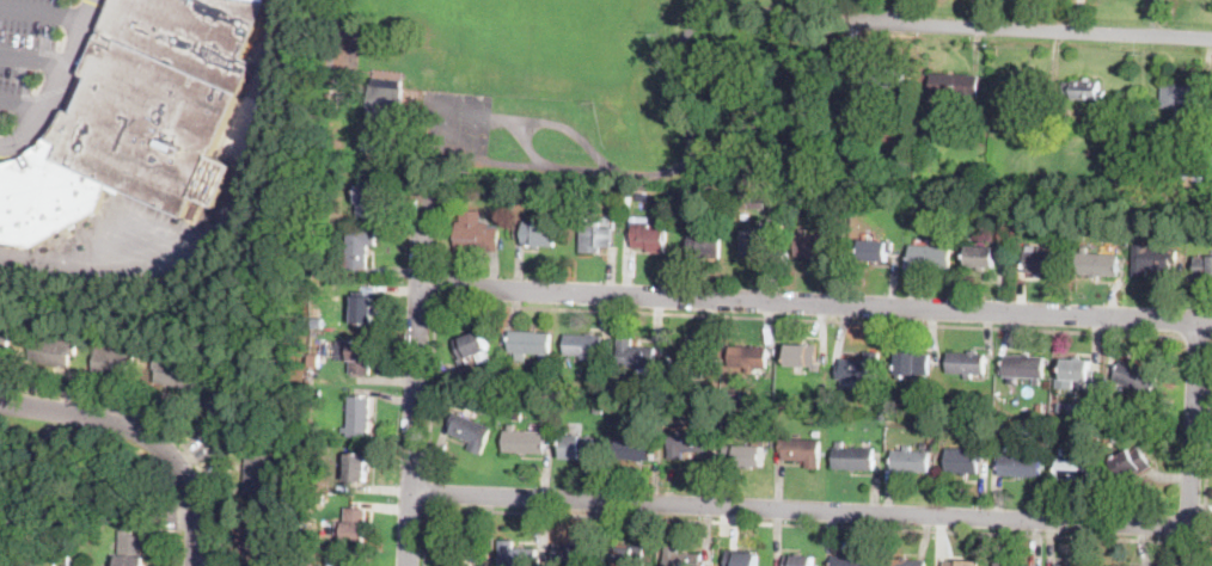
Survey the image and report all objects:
road: (45, 10)
road: (904, 11)
road: (1045, 30)
road: (35, 56)
parking lot: (42, 63)
building: (884, 79)
road: (59, 82)
building: (955, 85)
building: (1084, 90)
building: (332, 93)
road: (23, 99)
building: (1182, 101)
building: (385, 103)
road: (684, 104)
building: (849, 104)
building: (139, 117)
building: (847, 119)
building: (942, 128)
building: (392, 134)
building: (861, 136)
building: (379, 146)
building: (1122, 171)
building: (965, 179)
building: (1195, 184)
building: (464, 189)
building: (368, 201)
building: (757, 202)
building: (743, 203)
road: (224, 224)
building: (476, 233)
building: (539, 233)
building: (594, 235)
building: (650, 236)
building: (760, 239)
building: (705, 245)
building: (816, 245)
building: (359, 248)
building: (876, 250)
building: (931, 256)
building: (983, 256)
building: (1043, 259)
building: (1151, 259)
building: (1097, 263)
building: (1204, 266)
road: (815, 303)
building: (365, 309)
road: (809, 321)
road: (1198, 338)
building: (4, 343)
building: (531, 344)
building: (473, 346)
building: (586, 346)
building: (51, 350)
building: (359, 355)
building: (698, 355)
building: (802, 355)
building: (637, 356)
building: (748, 357)
building: (112, 361)
building: (966, 363)
building: (913, 364)
building: (1023, 367)
building: (859, 368)
building: (1076, 370)
building: (176, 373)
road: (417, 374)
building: (1137, 377)
building: (678, 381)
building: (631, 382)
building: (735, 389)
road: (431, 390)
building: (871, 396)
building: (822, 400)
building: (226, 404)
building: (1060, 407)
building: (598, 408)
building: (726, 408)
building: (1075, 408)
building: (314, 412)
building: (359, 417)
building: (673, 417)
road: (158, 422)
building: (1143, 427)
building: (471, 431)
building: (818, 432)
building: (1011, 435)
road: (143, 436)
building: (47, 439)
building: (524, 441)
building: (684, 442)
road: (1192, 443)
building: (923, 445)
building: (314, 447)
building: (579, 447)
building: (635, 449)
building: (802, 450)
building: (748, 455)
building: (853, 456)
building: (965, 459)
building: (910, 460)
building: (1130, 461)
building: (1021, 463)
building: (356, 467)
building: (1075, 467)
road: (1207, 468)
building: (258, 476)
road: (428, 494)
building: (320, 500)
road: (800, 513)
road: (773, 523)
building: (354, 524)
building: (258, 539)
building: (130, 549)
building: (515, 554)
building: (576, 554)
building: (458, 555)
building: (630, 555)
building: (680, 556)
building: (741, 559)
building: (343, 560)
building: (800, 560)
building: (850, 560)
building: (904, 561)
building: (960, 564)
building: (1002, 564)
building: (1070, 565)

